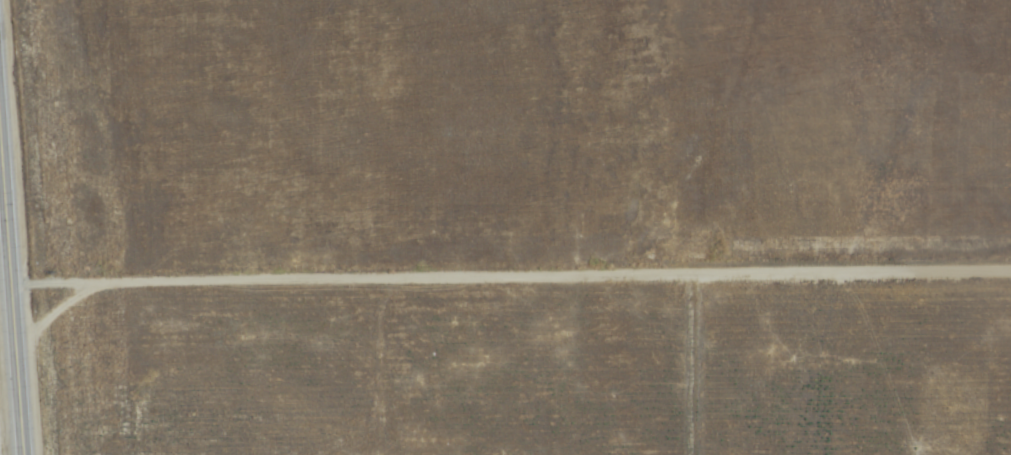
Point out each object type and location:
crop: (484, 40)
road: (511, 278)
road: (11, 294)
crop: (3, 403)

